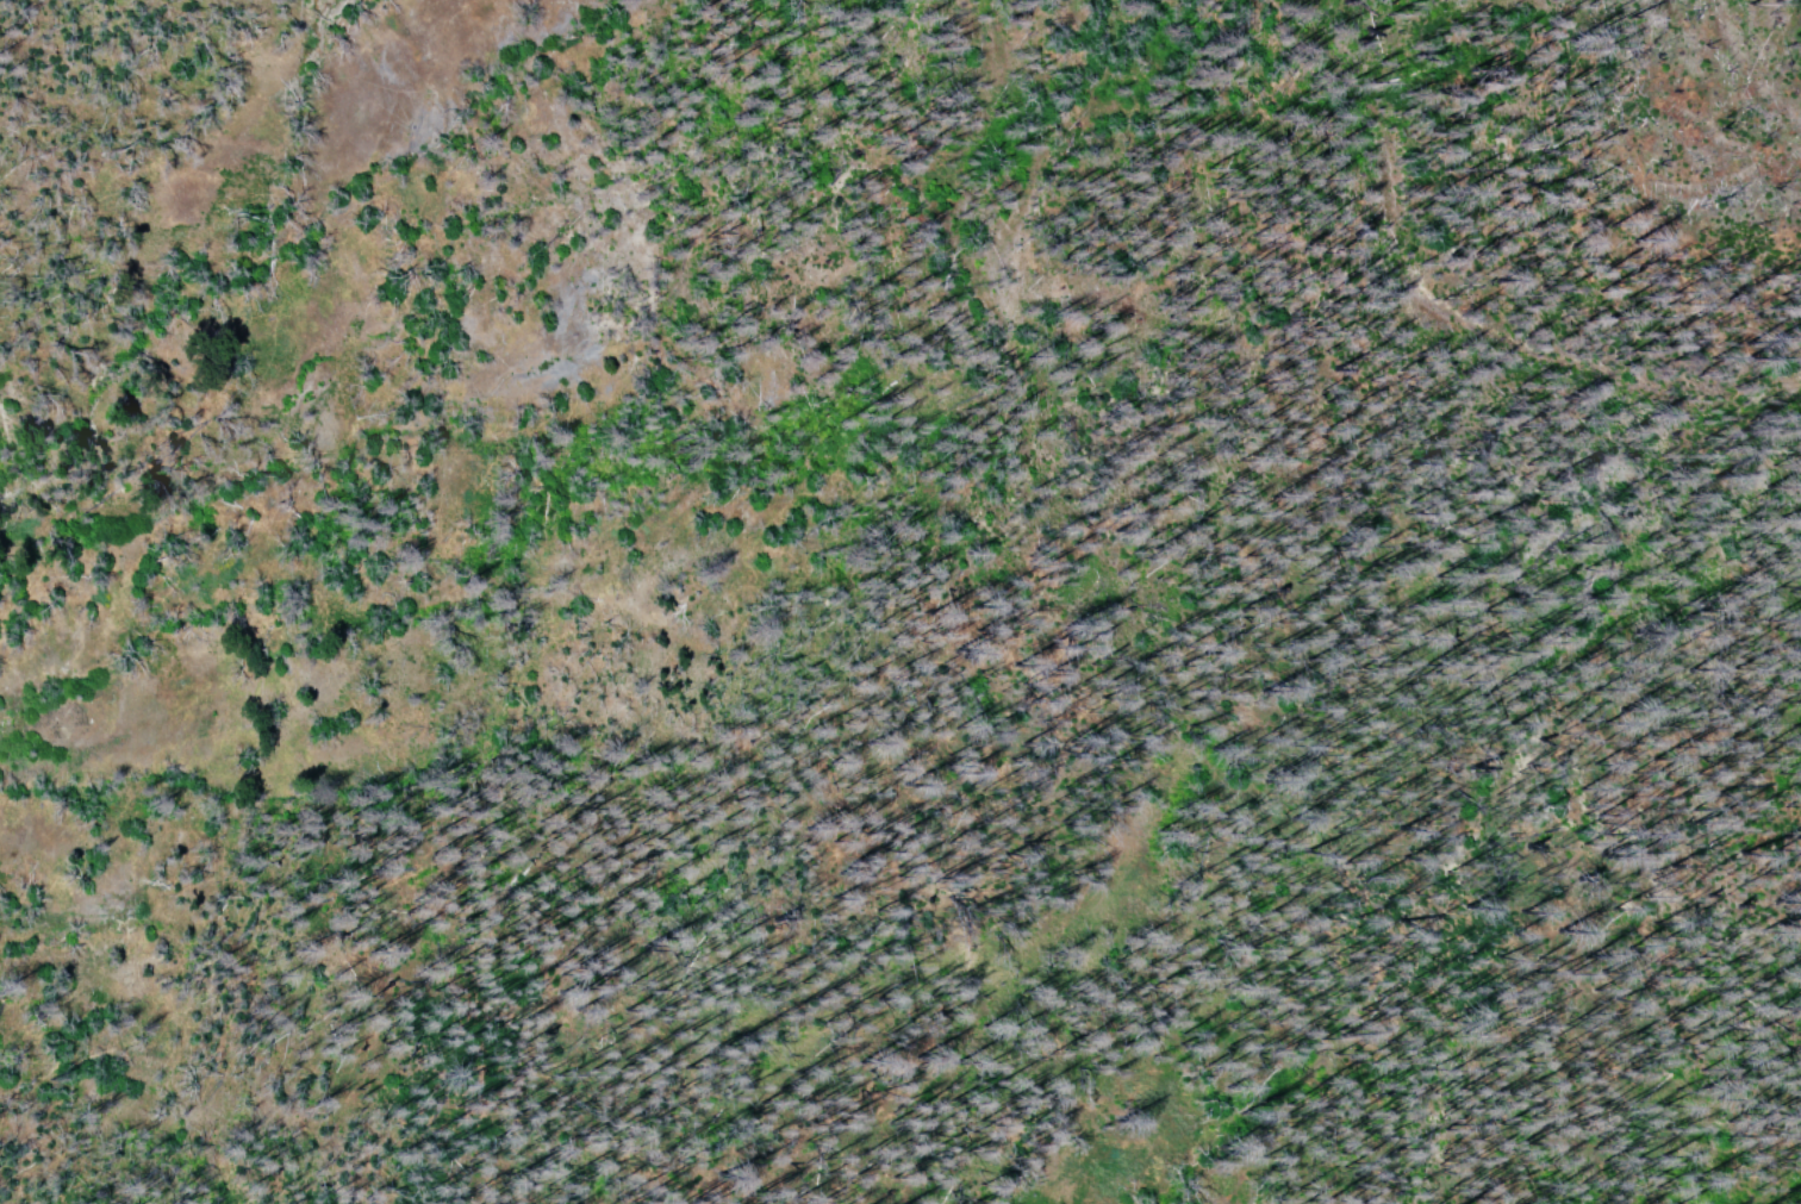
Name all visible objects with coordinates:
road: (1786, 25)

